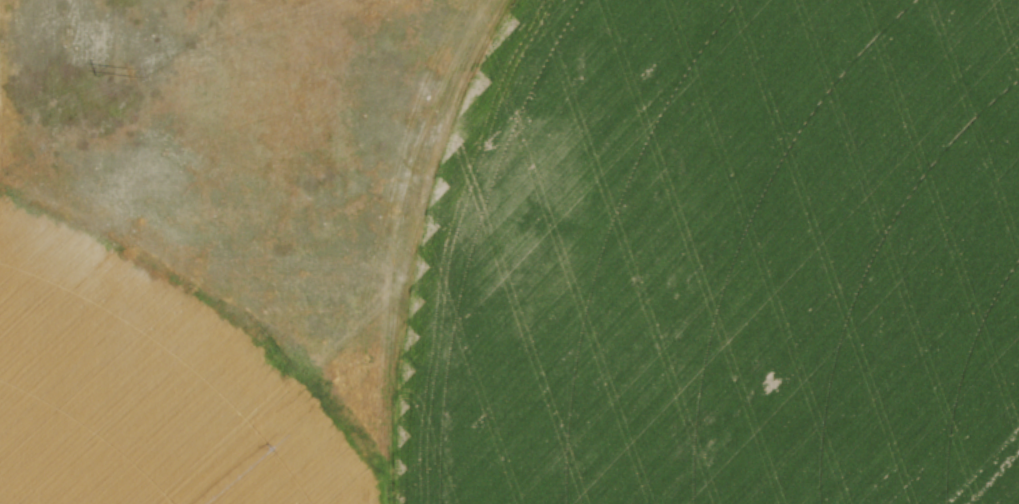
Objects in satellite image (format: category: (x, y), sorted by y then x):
power tower: (128, 71)

